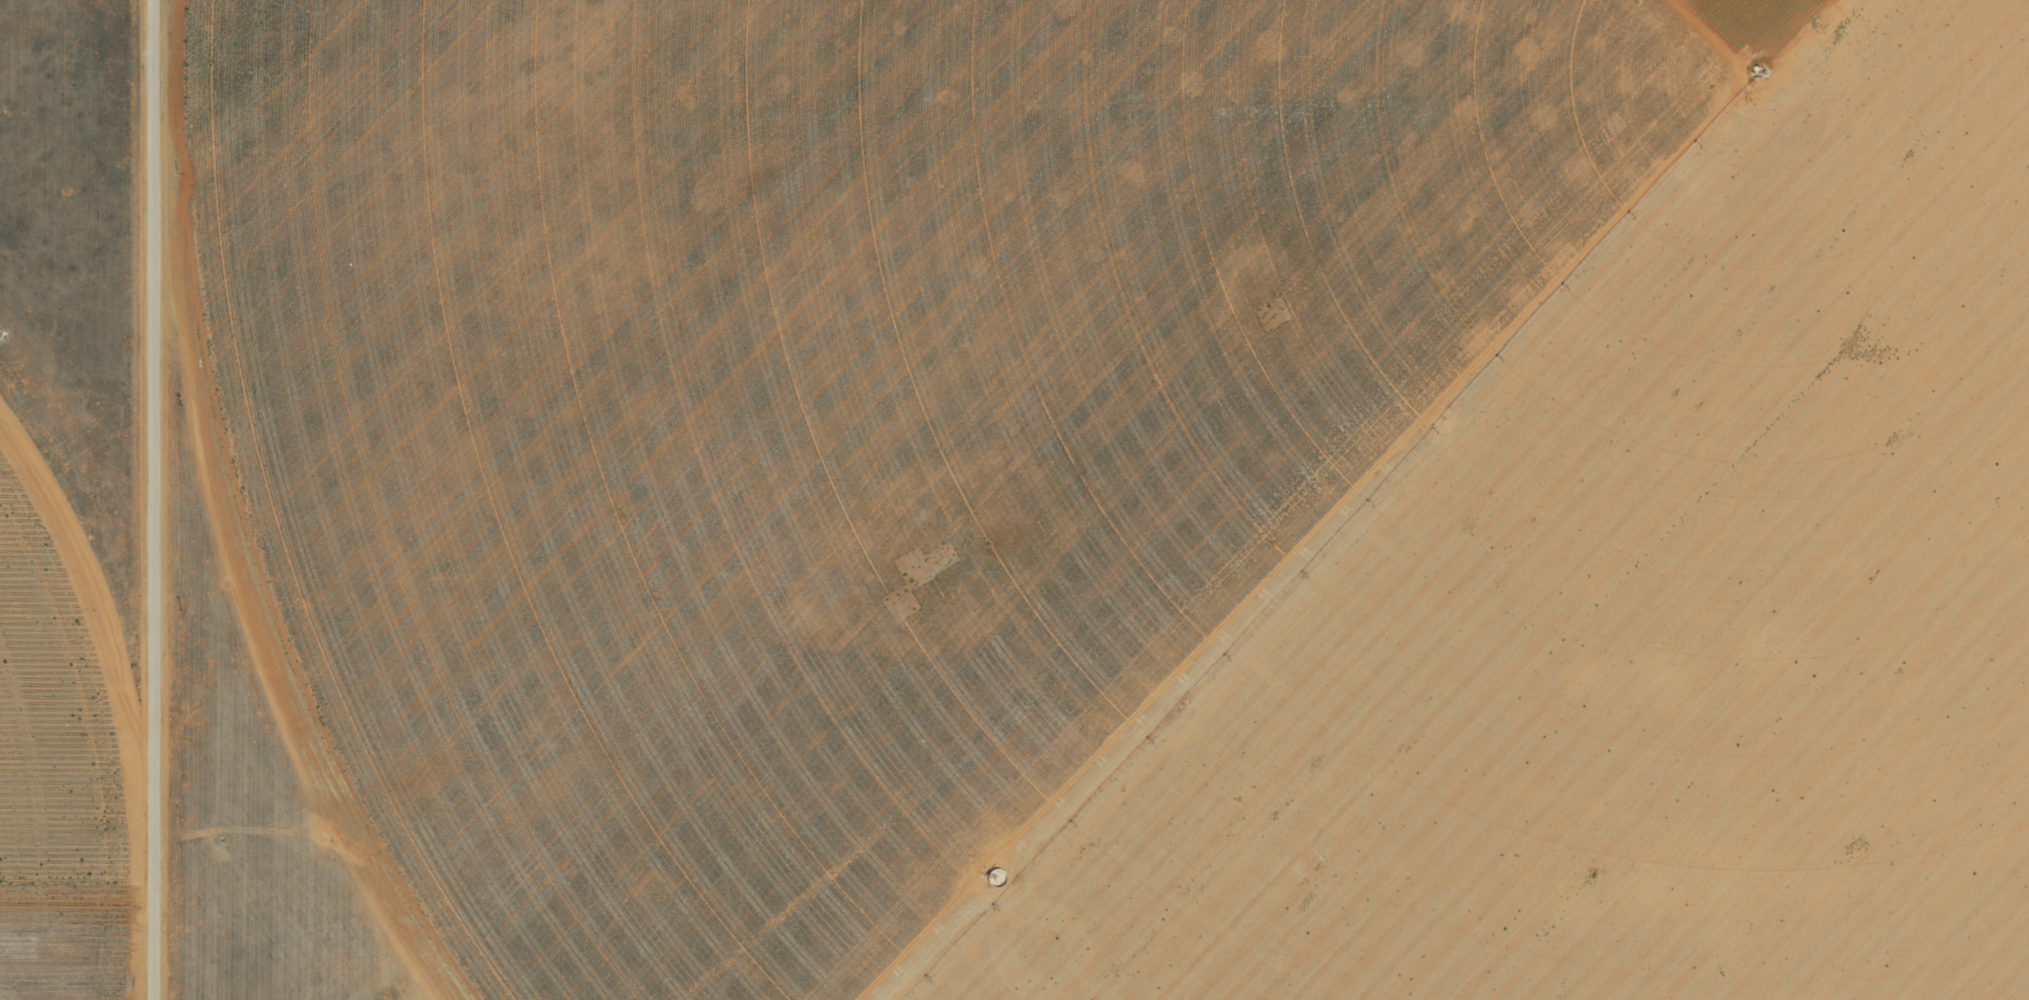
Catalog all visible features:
road: (148, 499)

